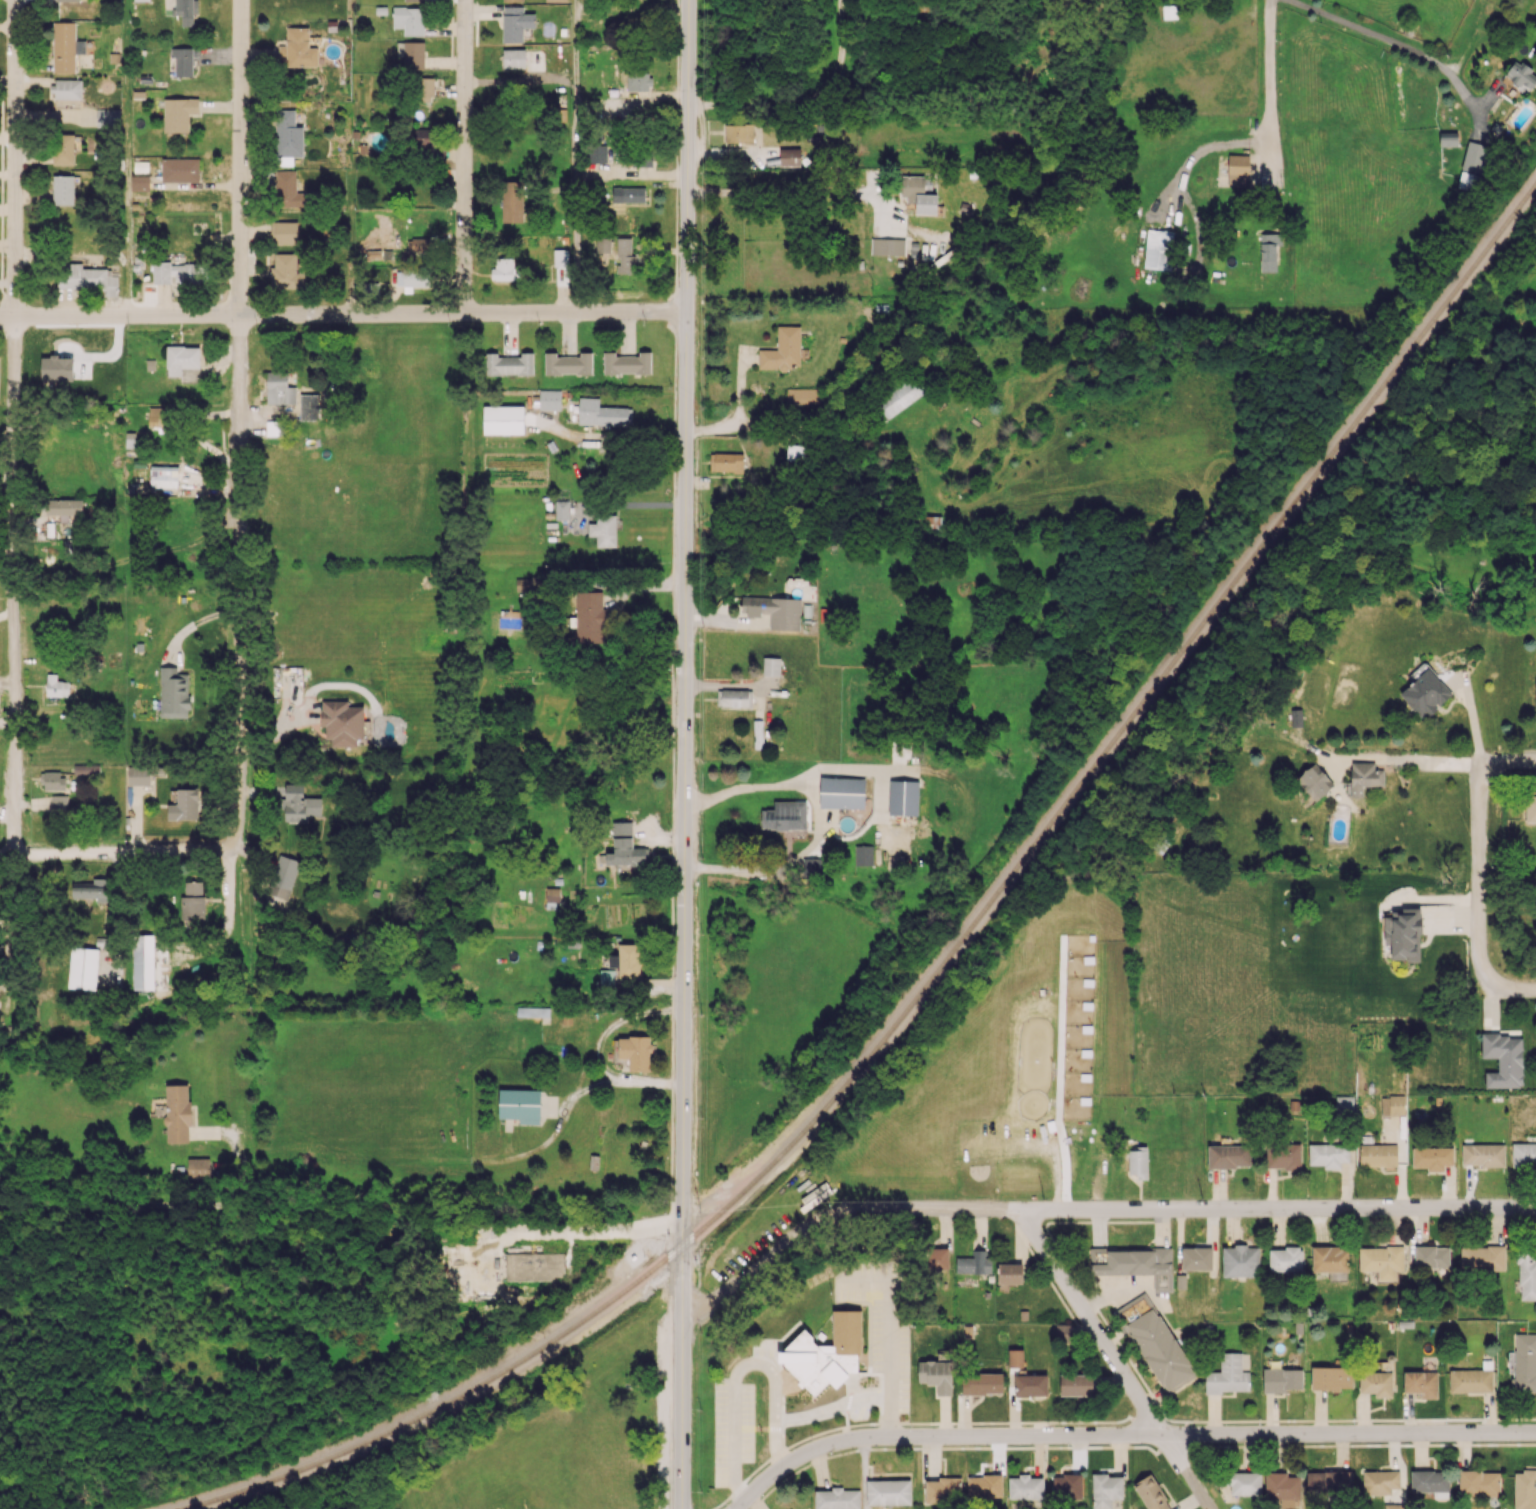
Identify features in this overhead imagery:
building: (65, 0)
building: (140, 0)
building: (413, 0)
building: (513, 0)
building: (556, 0)
building: (186, 10)
building: (409, 20)
building: (515, 23)
road: (576, 28)
road: (1395, 42)
building: (65, 47)
building: (297, 48)
building: (411, 54)
building: (513, 58)
road: (1275, 58)
building: (183, 60)
building: (1521, 75)
road: (523, 79)
building: (638, 81)
building: (67, 89)
building: (425, 89)
building: (179, 113)
building: (108, 117)
building: (738, 133)
building: (287, 137)
building: (1448, 138)
building: (423, 139)
building: (63, 149)
road: (1201, 150)
building: (596, 153)
road: (463, 157)
building: (789, 157)
road: (127, 158)
building: (638, 158)
building: (1472, 166)
building: (180, 169)
building: (1238, 170)
building: (140, 182)
road: (576, 185)
building: (63, 190)
building: (287, 190)
road: (801, 190)
building: (632, 194)
building: (919, 194)
building: (512, 201)
building: (283, 232)
road: (351, 243)
building: (419, 244)
building: (603, 244)
building: (887, 246)
building: (1158, 249)
building: (1269, 251)
building: (625, 255)
building: (559, 257)
building: (503, 269)
building: (173, 272)
building: (286, 272)
building: (86, 278)
building: (411, 279)
road: (343, 315)
building: (783, 350)
building: (363, 355)
building: (183, 363)
building: (568, 363)
building: (626, 363)
building: (509, 364)
building: (280, 387)
building: (802, 396)
building: (899, 397)
building: (309, 406)
road: (738, 410)
building: (602, 413)
building: (157, 416)
building: (503, 419)
road: (236, 422)
road: (11, 427)
road: (810, 436)
building: (795, 452)
building: (726, 461)
building: (164, 476)
building: (65, 509)
building: (562, 509)
building: (932, 523)
building: (603, 530)
building: (775, 610)
building: (589, 617)
building: (771, 666)
building: (56, 686)
building: (1424, 691)
building: (174, 693)
building: (734, 697)
building: (1535, 707)
building: (1296, 717)
building: (342, 723)
building: (758, 734)
road: (684, 754)
road: (1441, 758)
building: (138, 775)
building: (67, 777)
building: (1364, 777)
road: (798, 779)
building: (1314, 781)
building: (842, 792)
building: (903, 797)
building: (187, 803)
building: (59, 804)
building: (299, 804)
building: (1530, 808)
building: (784, 816)
building: (625, 847)
road: (118, 853)
building: (863, 854)
road: (788, 864)
building: (812, 865)
road: (1480, 875)
building: (283, 876)
building: (93, 889)
building: (552, 894)
building: (192, 904)
road: (228, 917)
building: (1403, 934)
railway: (949, 953)
building: (626, 960)
building: (149, 962)
building: (82, 968)
road: (1517, 987)
building: (533, 1011)
building: (634, 1052)
building: (1503, 1059)
building: (1344, 1104)
building: (520, 1105)
building: (1392, 1105)
building: (177, 1113)
building: (1523, 1153)
building: (1328, 1154)
building: (1483, 1154)
building: (1378, 1155)
building: (1229, 1156)
building: (1283, 1156)
building: (1432, 1157)
building: (1138, 1162)
building: (200, 1168)
road: (113, 1205)
road: (1094, 1208)
road: (558, 1229)
building: (1432, 1256)
building: (937, 1258)
building: (1196, 1258)
building: (1482, 1258)
building: (1285, 1259)
building: (1240, 1261)
building: (1330, 1261)
building: (1381, 1261)
building: (973, 1263)
building: (1134, 1264)
building: (534, 1266)
building: (1009, 1273)
building: (1527, 1276)
building: (1062, 1331)
building: (1156, 1342)
road: (889, 1343)
building: (825, 1353)
building: (1015, 1358)
road: (1114, 1359)
building: (1525, 1362)
road: (736, 1369)
building: (936, 1375)
building: (1228, 1375)
building: (1331, 1378)
building: (1281, 1379)
building: (982, 1383)
building: (1421, 1383)
building: (1030, 1384)
building: (1076, 1384)
road: (830, 1404)
parking lot: (669, 1411)
road: (1124, 1434)
park: (556, 1442)
building: (1429, 1480)
building: (1328, 1481)
building: (1243, 1482)
building: (1380, 1482)
building: (1479, 1483)
park: (526, 1485)
building: (984, 1486)
building: (1067, 1486)
building: (1026, 1487)
building: (1283, 1488)
building: (1524, 1489)
building: (943, 1490)
building: (1105, 1490)
building: (888, 1492)
building: (1151, 1493)
building: (837, 1499)
building: (1394, 1506)

